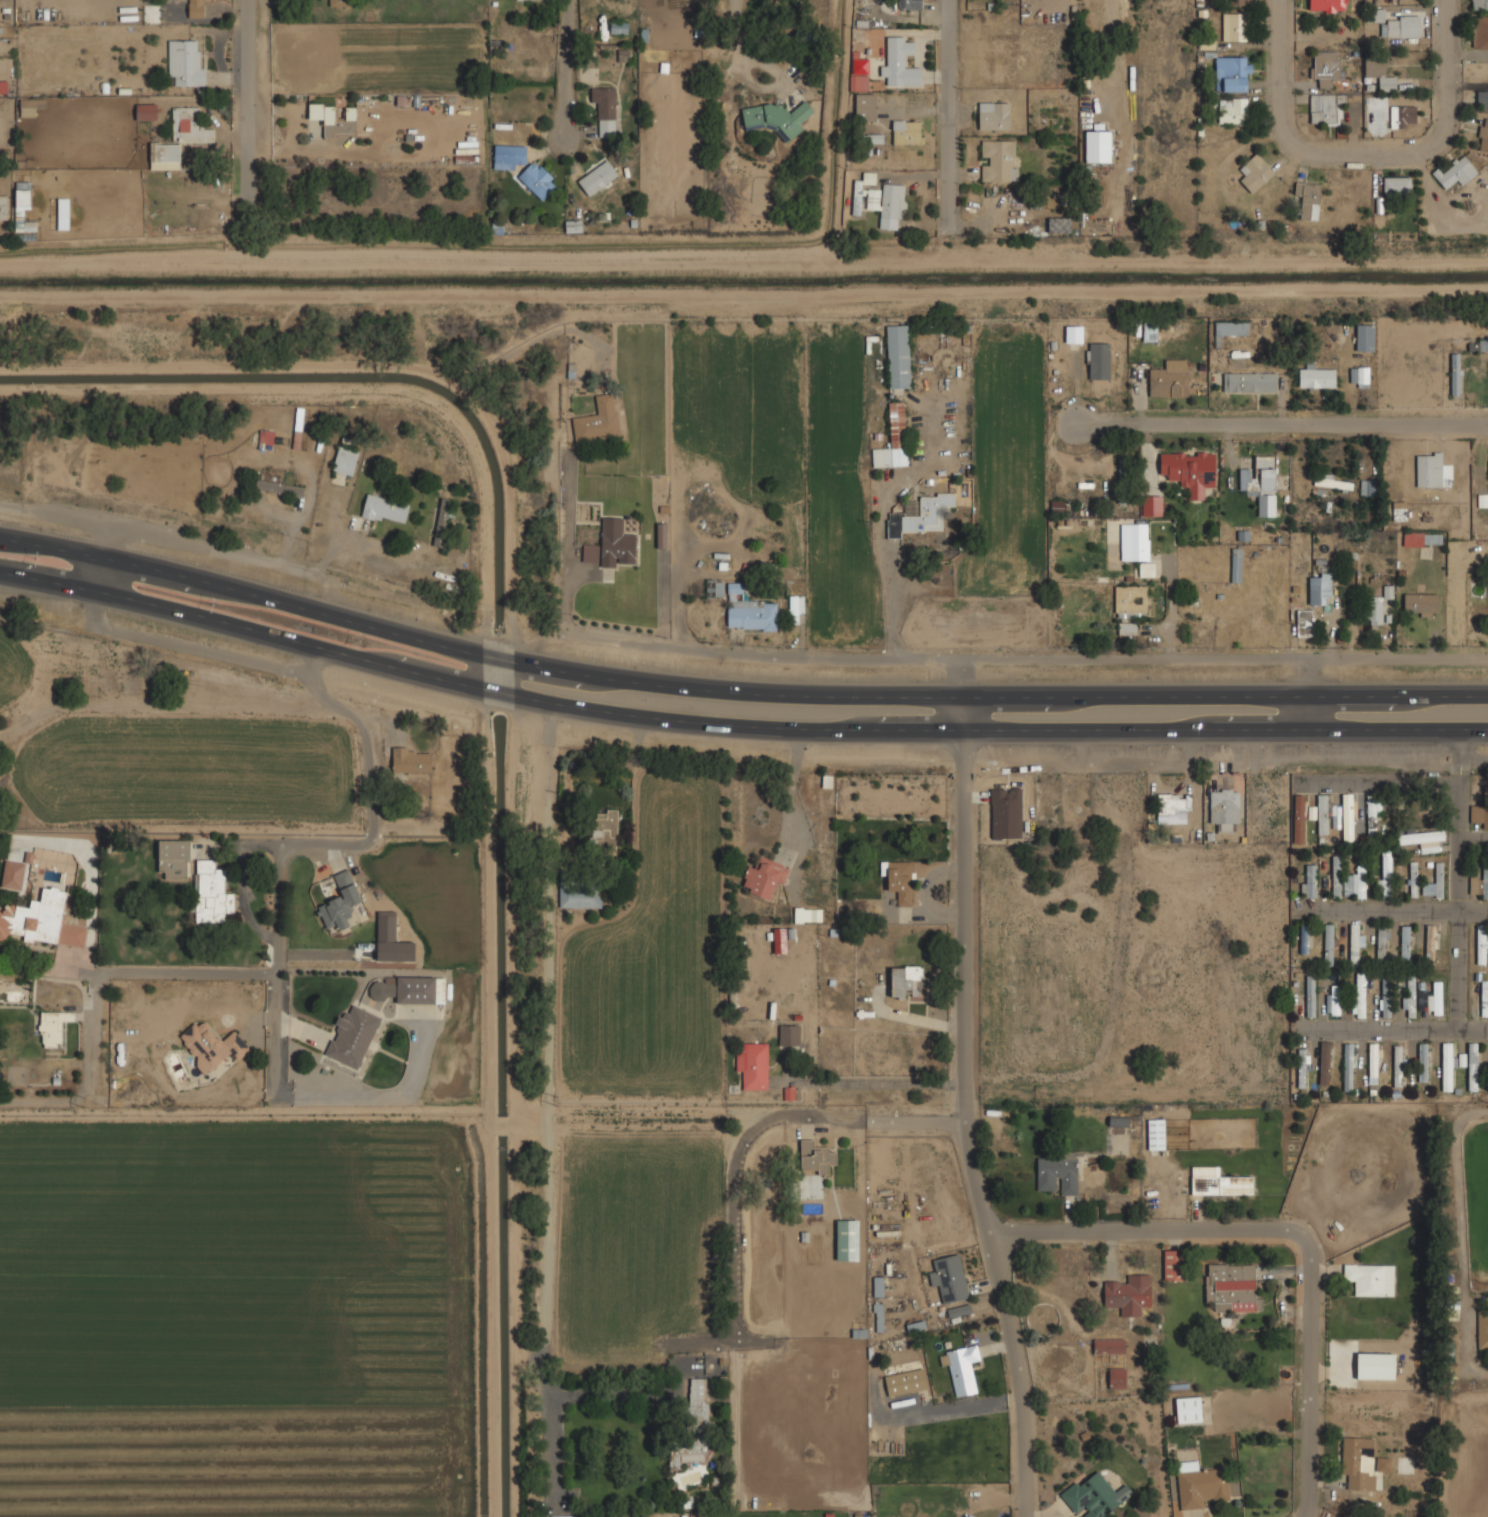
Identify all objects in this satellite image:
building: (1238, 1)
building: (337, 2)
building: (908, 4)
building: (1480, 4)
building: (1328, 5)
building: (197, 8)
building: (1375, 15)
building: (1235, 25)
building: (1401, 25)
building: (619, 26)
building: (1480, 30)
road: (740, 32)
building: (186, 60)
building: (900, 63)
building: (1326, 66)
road: (571, 68)
building: (1234, 70)
building: (1380, 73)
road: (781, 81)
building: (860, 82)
road: (253, 91)
building: (1482, 99)
building: (28, 106)
building: (866, 106)
building: (605, 108)
building: (1323, 108)
building: (1233, 109)
building: (147, 110)
building: (1403, 114)
building: (994, 115)
building: (778, 117)
building: (334, 118)
road: (951, 121)
building: (907, 131)
building: (1484, 134)
building: (180, 137)
building: (870, 138)
road: (1364, 140)
building: (1098, 145)
building: (508, 156)
building: (999, 159)
building: (1256, 171)
building: (1456, 172)
building: (598, 176)
building: (538, 179)
building: (1397, 184)
building: (858, 196)
building: (1309, 198)
building: (22, 200)
building: (888, 203)
building: (4, 206)
building: (63, 213)
building: (1059, 224)
building: (1231, 328)
building: (1144, 331)
building: (1075, 333)
building: (1365, 336)
building: (1479, 345)
building: (898, 355)
building: (1099, 360)
building: (1456, 373)
building: (1360, 374)
building: (1316, 376)
building: (1250, 380)
building: (1171, 382)
building: (599, 420)
road: (1283, 425)
building: (270, 436)
building: (894, 438)
building: (298, 439)
building: (345, 459)
building: (1431, 469)
building: (1190, 471)
building: (1123, 479)
building: (1334, 480)
building: (1262, 482)
building: (1369, 486)
building: (279, 487)
building: (1153, 505)
building: (1058, 506)
building: (385, 508)
building: (1399, 510)
building: (920, 513)
building: (441, 522)
building: (661, 535)
building: (1423, 538)
building: (1135, 539)
building: (617, 542)
road: (881, 545)
road: (380, 549)
road: (230, 553)
building: (1236, 563)
building: (1147, 568)
road: (100, 573)
building: (715, 586)
building: (1320, 587)
building: (1132, 600)
building: (1421, 603)
building: (795, 607)
building: (1375, 608)
building: (749, 609)
road: (1171, 612)
building: (1306, 621)
building: (1128, 627)
road: (475, 651)
road: (1119, 657)
road: (1382, 658)
crop: (14, 669)
road: (494, 673)
road: (475, 685)
road: (1224, 694)
road: (165, 703)
road: (1307, 712)
road: (1224, 730)
building: (410, 760)
crop: (183, 770)
road: (1377, 783)
road: (550, 800)
building: (1175, 803)
building: (1225, 806)
road: (793, 808)
building: (1322, 814)
building: (1371, 814)
building: (1479, 814)
building: (1334, 815)
building: (1298, 817)
building: (1346, 817)
building: (605, 827)
building: (1420, 837)
road: (1472, 837)
road: (337, 842)
building: (173, 859)
building: (1386, 872)
building: (1335, 876)
building: (764, 877)
building: (899, 878)
building: (1413, 879)
building: (1438, 879)
building: (1311, 881)
building: (1361, 881)
building: (1480, 881)
building: (211, 893)
road: (1456, 895)
building: (580, 896)
building: (340, 902)
road: (1402, 912)
building: (809, 914)
building: (35, 917)
building: (71, 934)
building: (1303, 938)
building: (780, 939)
building: (391, 940)
building: (1404, 943)
building: (1482, 943)
building: (1328, 944)
building: (1380, 944)
building: (1354, 945)
building: (1429, 945)
building: (905, 979)
building: (382, 989)
building: (419, 989)
building: (918, 989)
building: (1360, 993)
building: (1311, 994)
building: (1386, 995)
building: (1409, 995)
building: (1484, 996)
building: (1421, 997)
building: (1435, 997)
building: (1336, 998)
building: (53, 1025)
road: (1381, 1030)
road: (273, 1033)
building: (789, 1033)
building: (352, 1037)
building: (211, 1045)
building: (1325, 1061)
building: (1425, 1061)
building: (1373, 1062)
building: (753, 1063)
building: (1399, 1064)
building: (1348, 1065)
building: (1448, 1065)
building: (1473, 1065)
building: (1302, 1067)
road: (879, 1080)
power tower: (1041, 1092)
power tower: (82, 1100)
power tower: (1461, 1100)
power tower: (554, 1101)
road: (971, 1108)
building: (1118, 1121)
building: (1157, 1133)
building: (816, 1156)
building: (1058, 1173)
building: (1219, 1181)
road: (1290, 1229)
building: (848, 1238)
road: (1463, 1243)
building: (1172, 1264)
road: (734, 1275)
building: (950, 1277)
building: (1371, 1277)
building: (878, 1286)
building: (1232, 1286)
building: (1129, 1293)
building: (958, 1310)
crop: (241, 1316)
building: (878, 1316)
building: (1483, 1330)
building: (1110, 1345)
building: (1377, 1364)
building: (962, 1366)
building: (1118, 1377)
building: (906, 1381)
building: (1190, 1409)
building: (694, 1426)
building: (1362, 1461)
building: (1201, 1484)
building: (1096, 1495)
building: (967, 1514)
building: (562, 1516)

